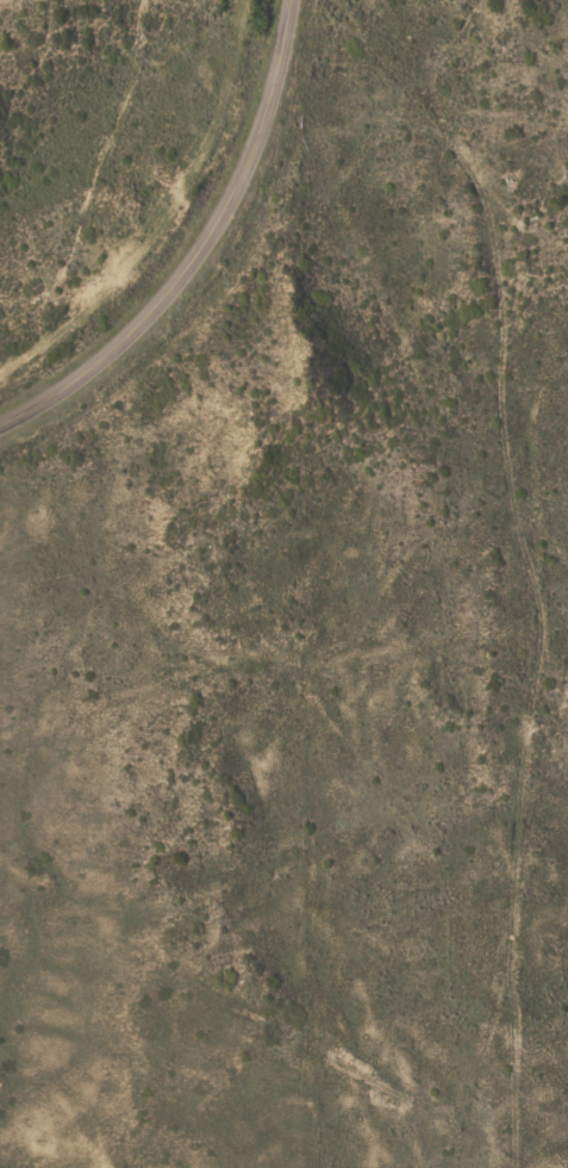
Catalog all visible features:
road: (200, 254)

